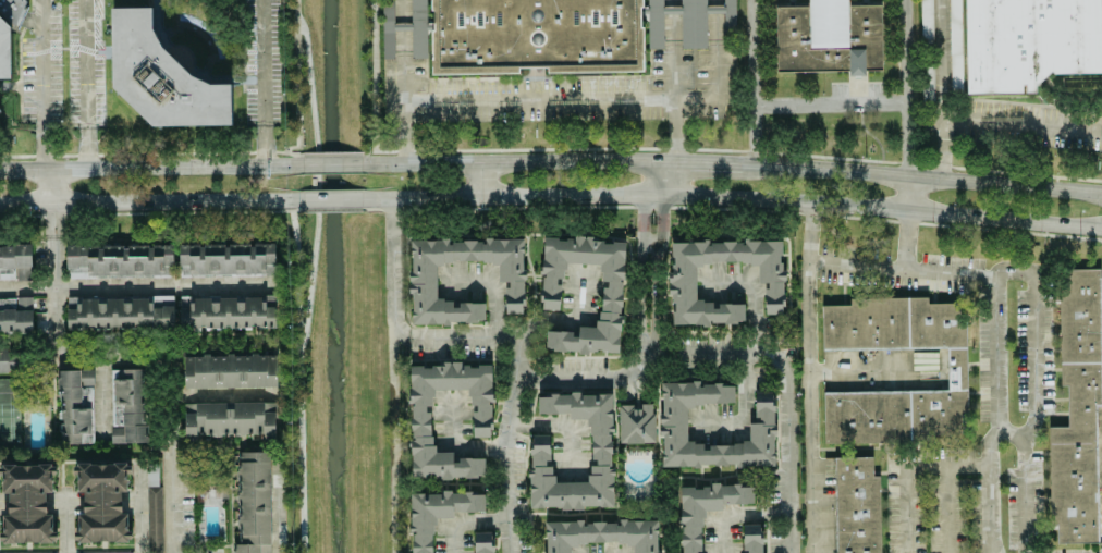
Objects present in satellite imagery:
building: (11, 11)
building: (388, 13)
building: (926, 21)
building: (693, 23)
building: (536, 36)
building: (828, 37)
building: (1029, 42)
building: (955, 46)
road: (670, 49)
building: (4, 50)
building: (161, 74)
road: (292, 82)
road: (747, 82)
road: (260, 83)
road: (363, 83)
road: (399, 83)
road: (83, 84)
road: (37, 87)
road: (904, 87)
road: (605, 99)
road: (826, 106)
building: (0, 109)
road: (960, 123)
road: (672, 131)
road: (870, 138)
road: (940, 150)
road: (731, 163)
road: (329, 165)
road: (149, 167)
road: (670, 180)
road: (477, 181)
road: (56, 186)
road: (905, 194)
road: (731, 197)
road: (330, 199)
road: (150, 201)
road: (908, 237)
building: (226, 259)
building: (119, 260)
building: (15, 263)
road: (304, 263)
road: (393, 267)
building: (423, 272)
building: (682, 273)
road: (137, 282)
road: (493, 285)
building: (611, 286)
road: (315, 288)
building: (120, 312)
building: (226, 312)
building: (15, 315)
road: (552, 320)
road: (995, 324)
road: (647, 327)
road: (445, 336)
road: (755, 348)
road: (135, 357)
building: (7, 364)
road: (880, 369)
building: (230, 370)
building: (955, 370)
road: (819, 377)
road: (587, 378)
building: (728, 393)
road: (102, 394)
road: (224, 395)
road: (1033, 395)
building: (128, 405)
building: (75, 406)
building: (1077, 409)
building: (231, 419)
building: (421, 419)
road: (560, 422)
building: (636, 423)
building: (673, 432)
road: (1012, 437)
road: (786, 441)
road: (393, 443)
road: (458, 444)
road: (509, 446)
building: (600, 457)
road: (913, 463)
building: (101, 502)
building: (26, 503)
building: (253, 503)
road: (954, 504)
building: (856, 506)
building: (154, 508)
building: (706, 508)
road: (735, 508)
road: (465, 513)
road: (139, 514)
building: (438, 514)
road: (283, 519)
road: (63, 521)
building: (750, 529)
building: (602, 534)
building: (482, 542)
building: (751, 543)
building: (118, 552)

